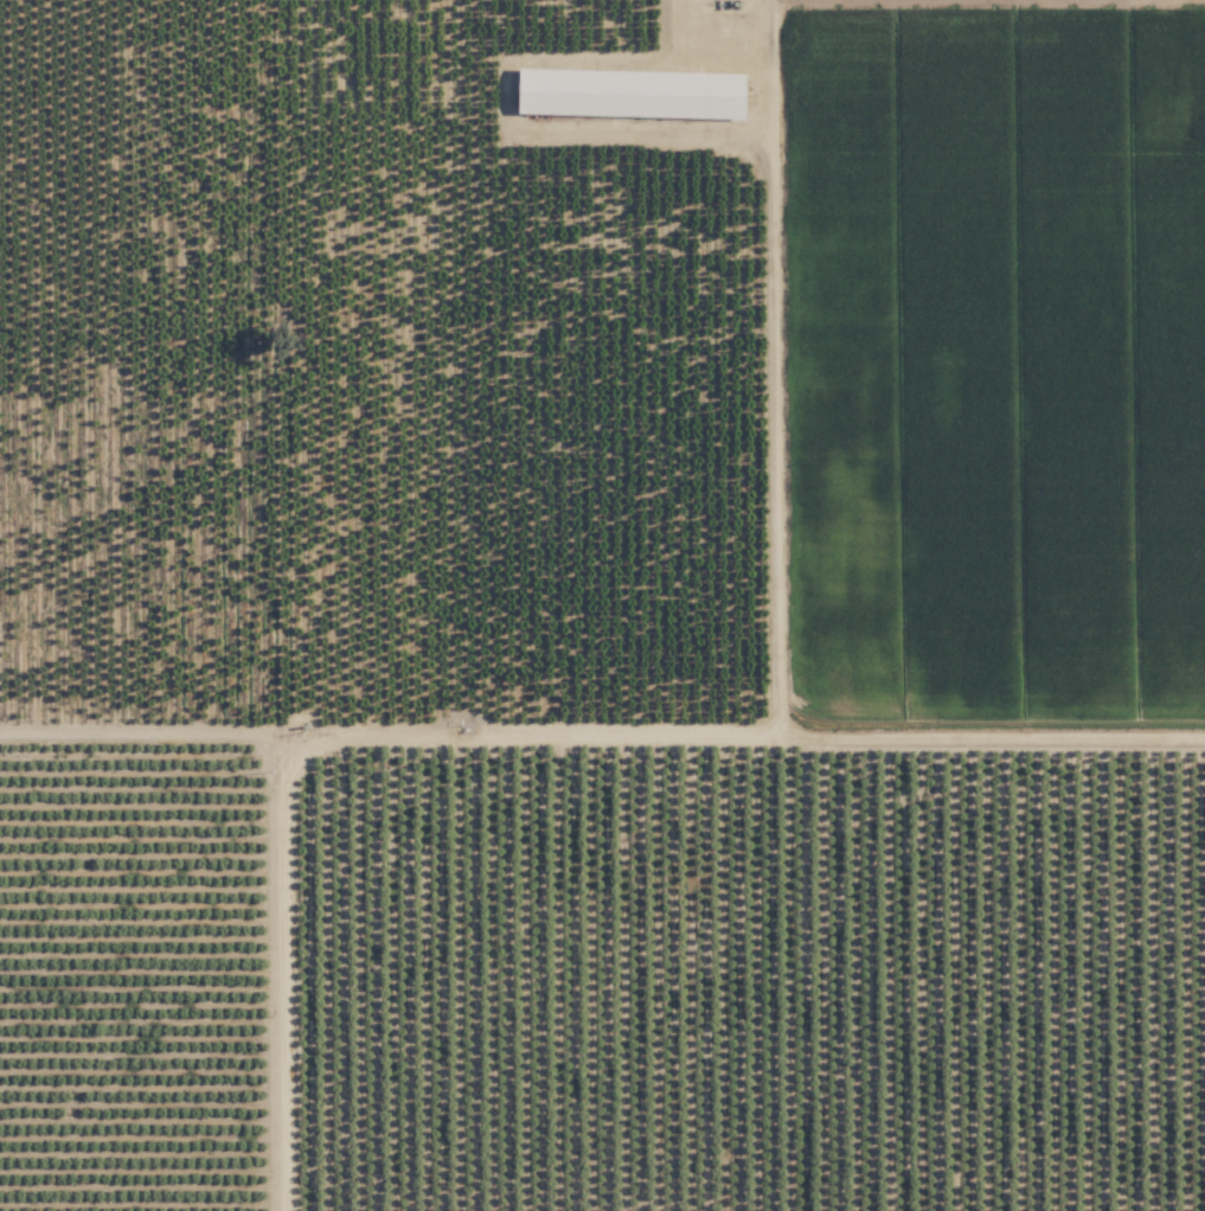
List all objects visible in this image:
building: (635, 92)
crop: (134, 364)
crop: (525, 365)
crop: (993, 365)
crop: (602, 970)

